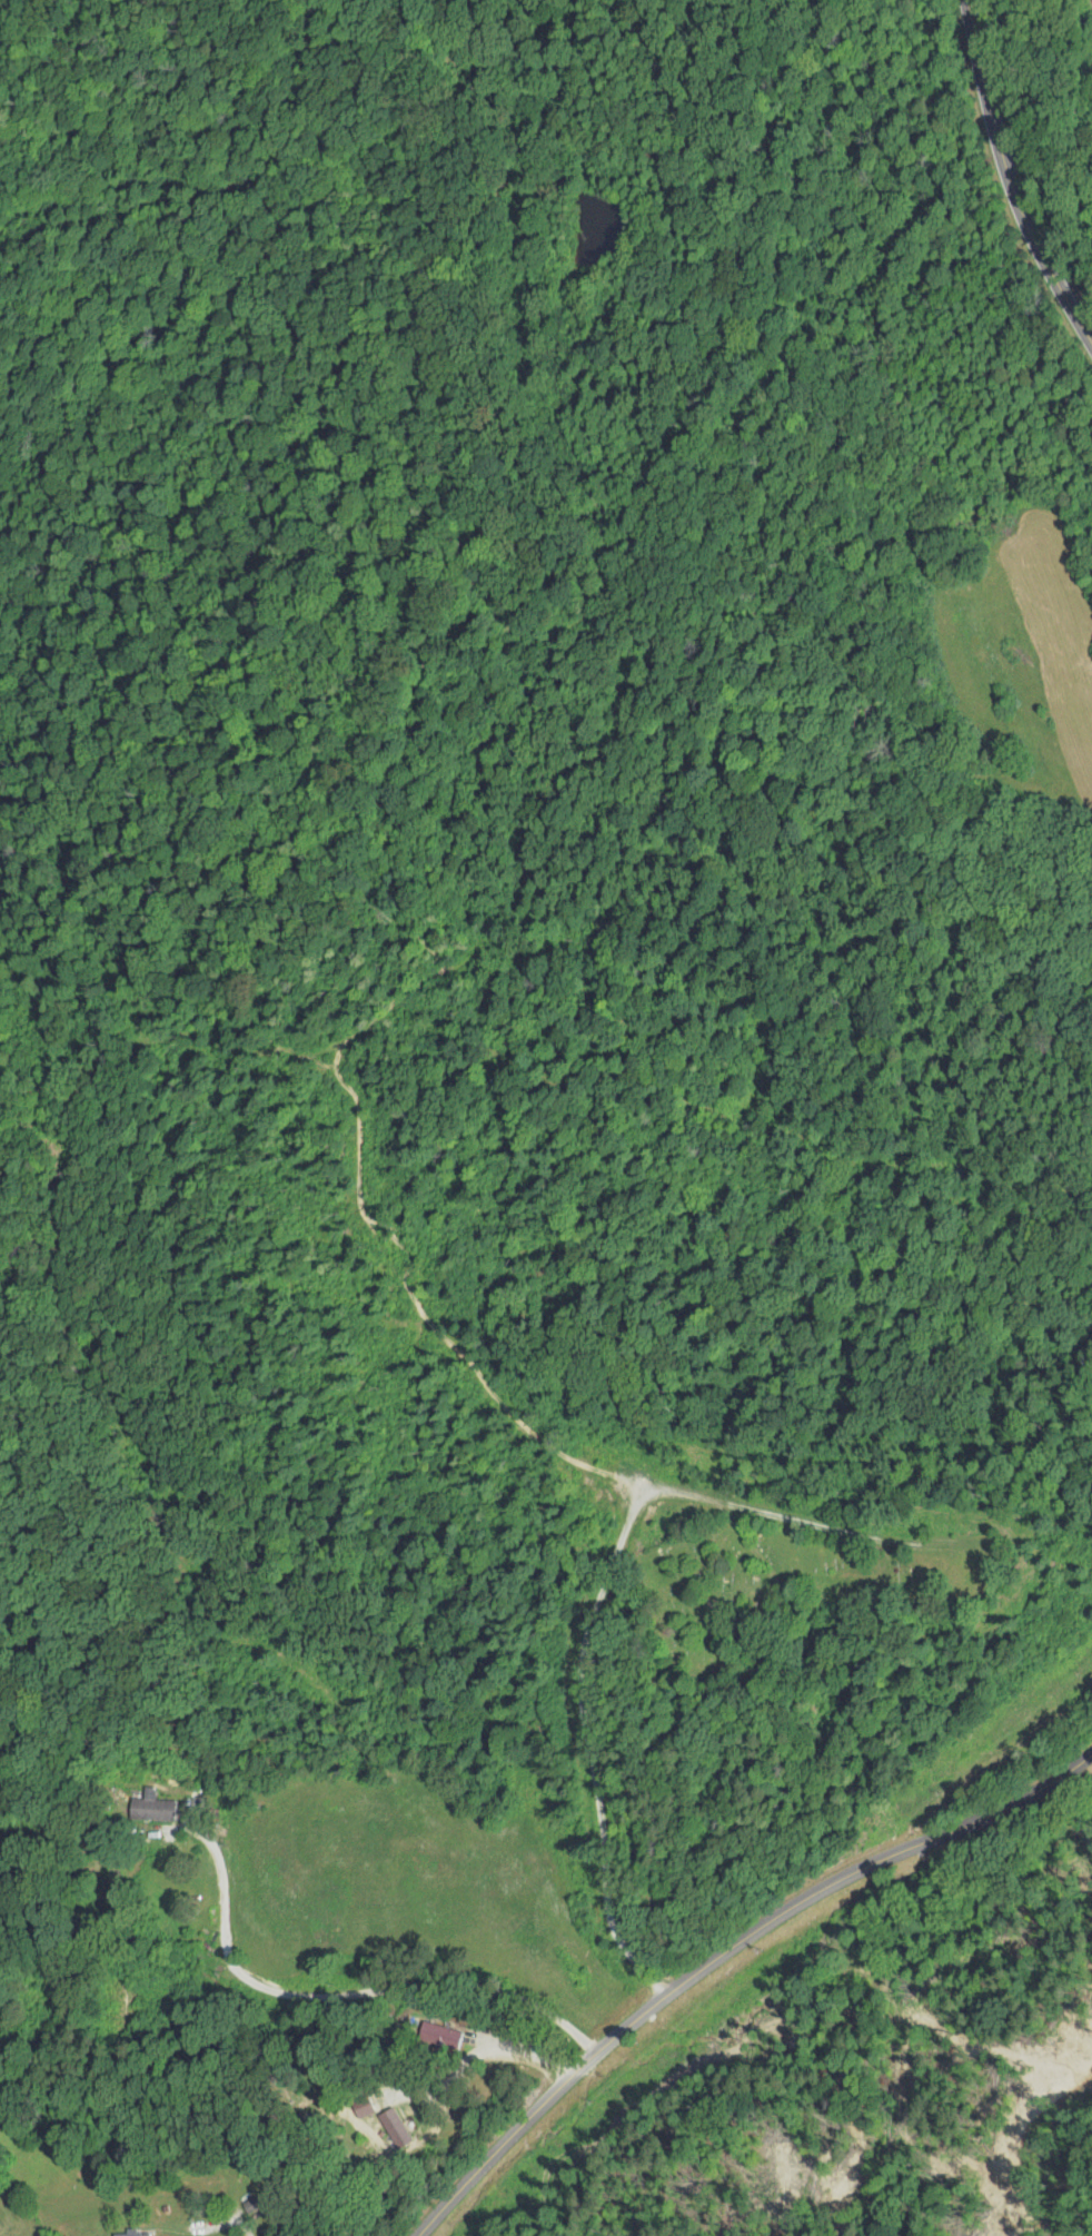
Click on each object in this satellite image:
road: (1010, 179)
park: (804, 1594)
road: (625, 1778)
road: (724, 1952)
building: (403, 2129)
building: (258, 2205)
building: (138, 2234)

